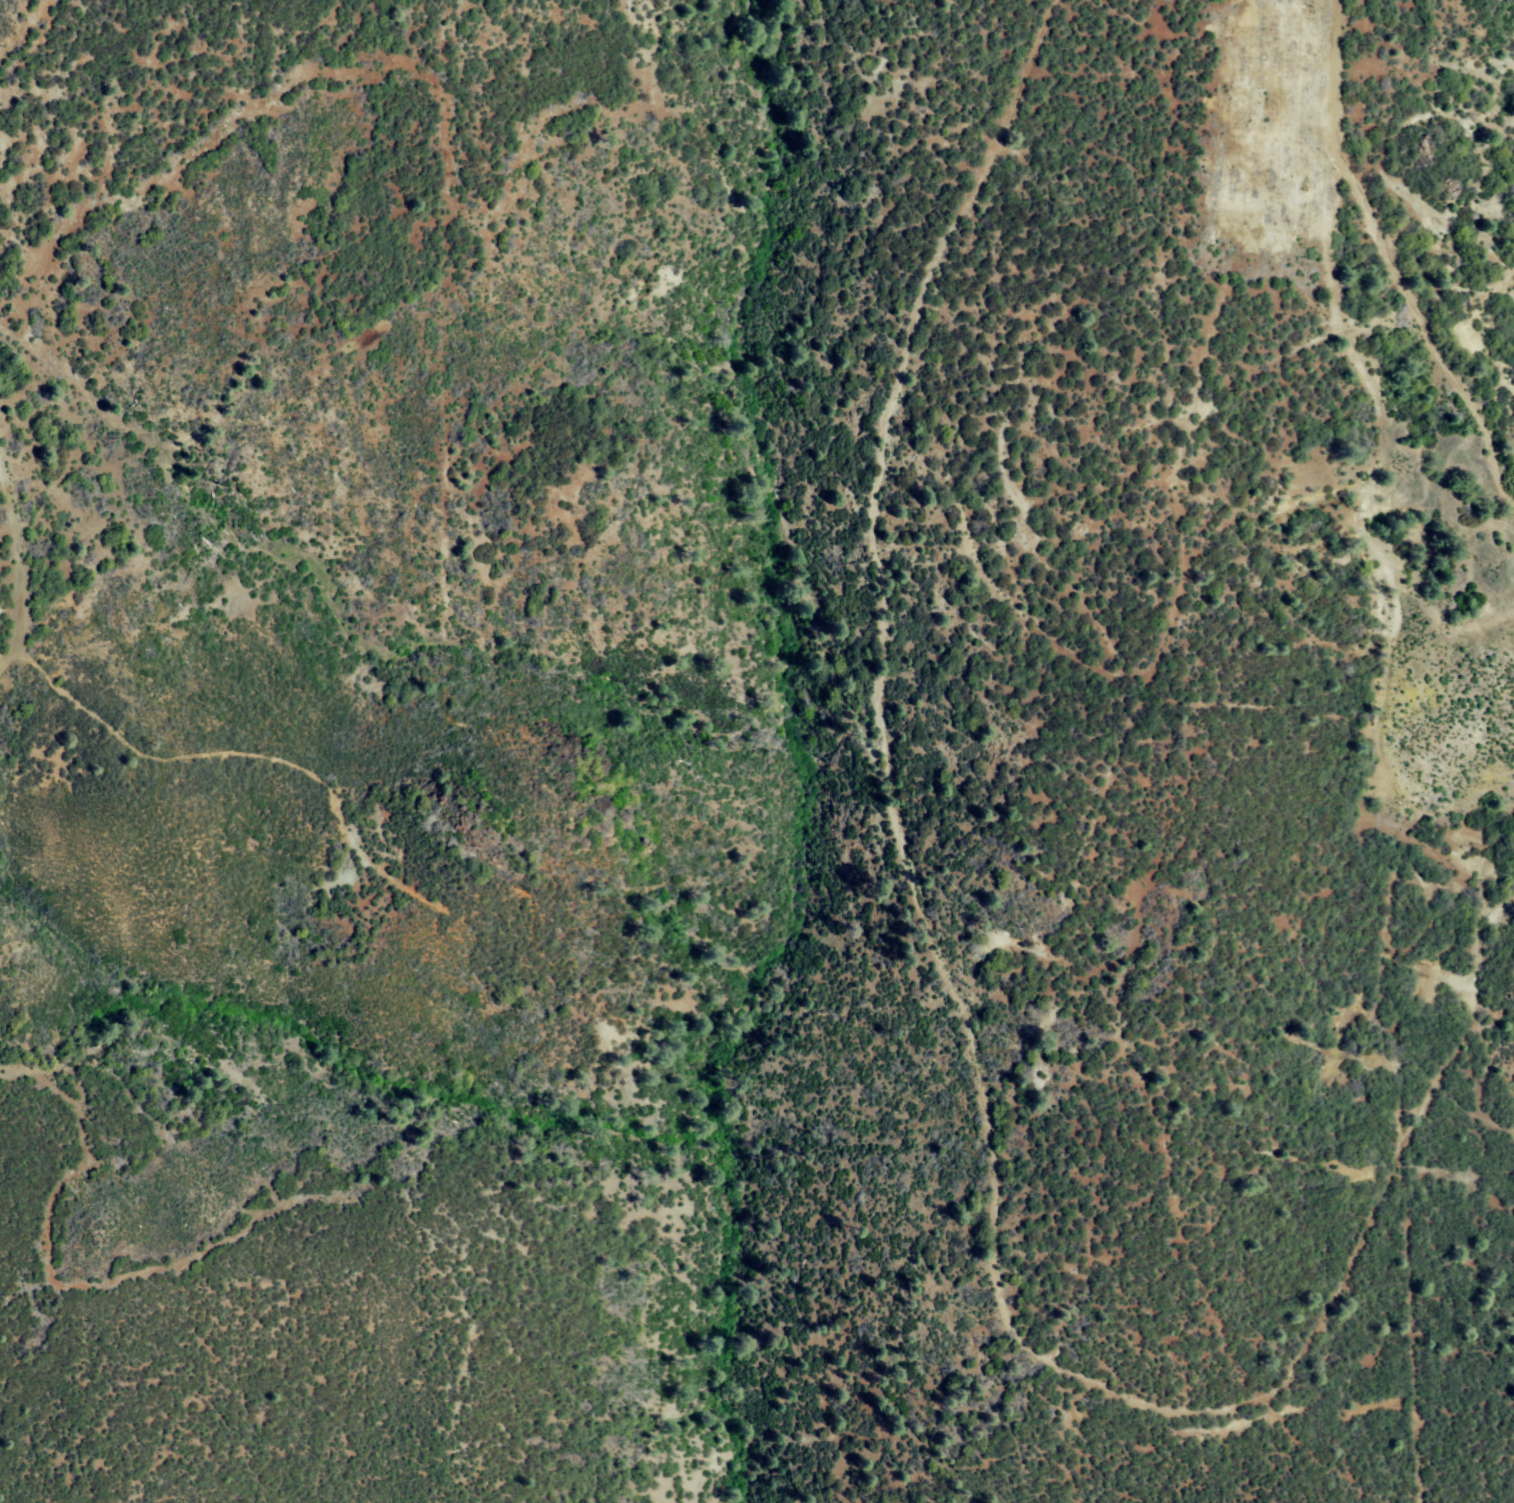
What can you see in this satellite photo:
road: (1386, 265)

